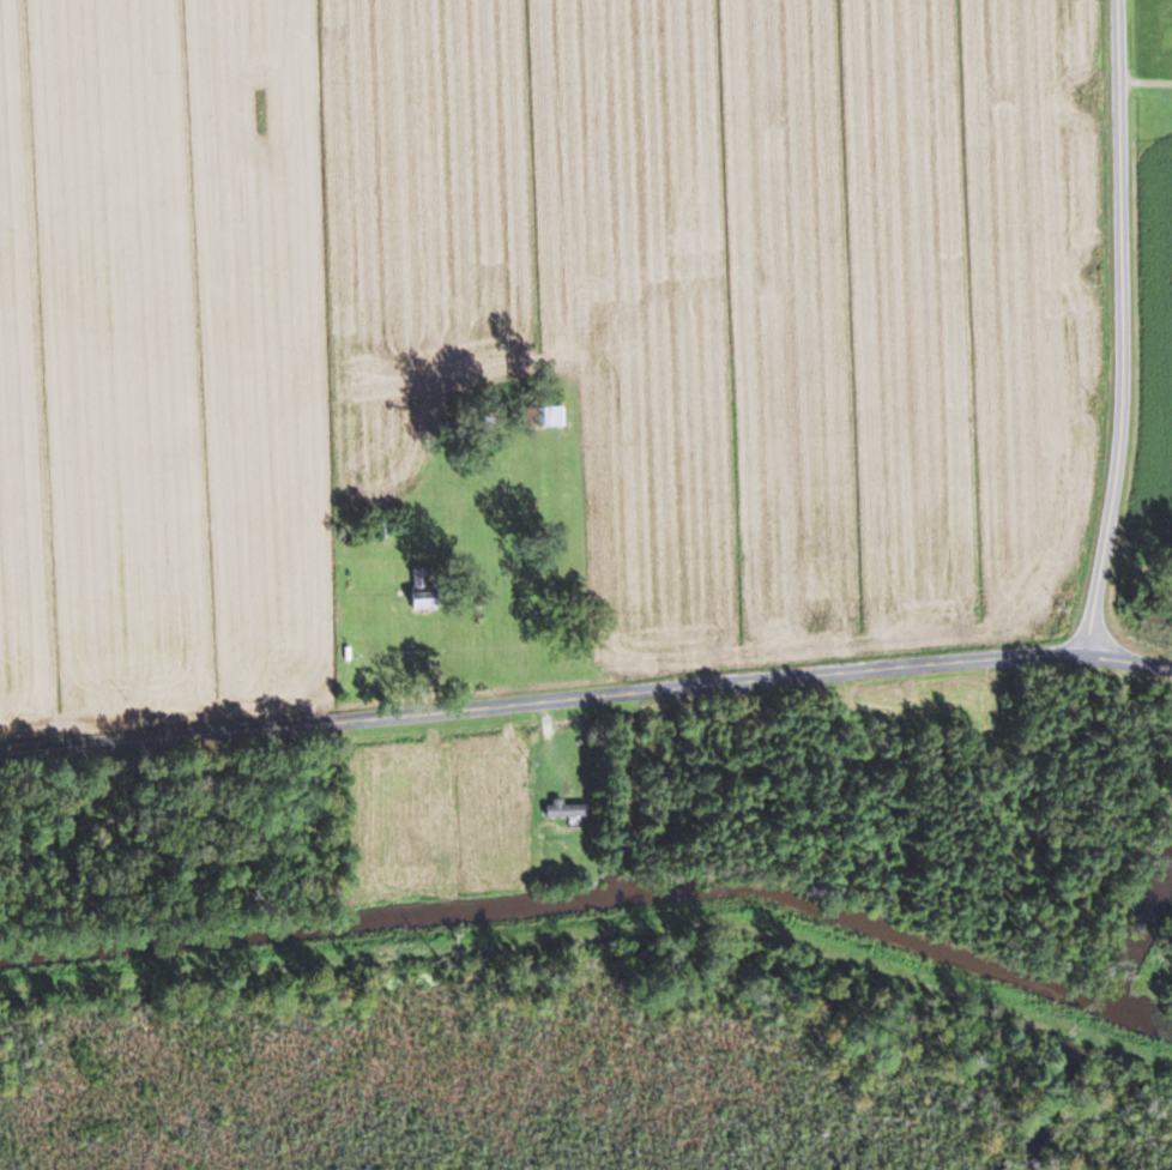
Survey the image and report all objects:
crop: (539, 320)
road: (1124, 332)
crop: (1154, 346)
building: (546, 414)
building: (421, 586)
road: (586, 702)
building: (563, 808)

